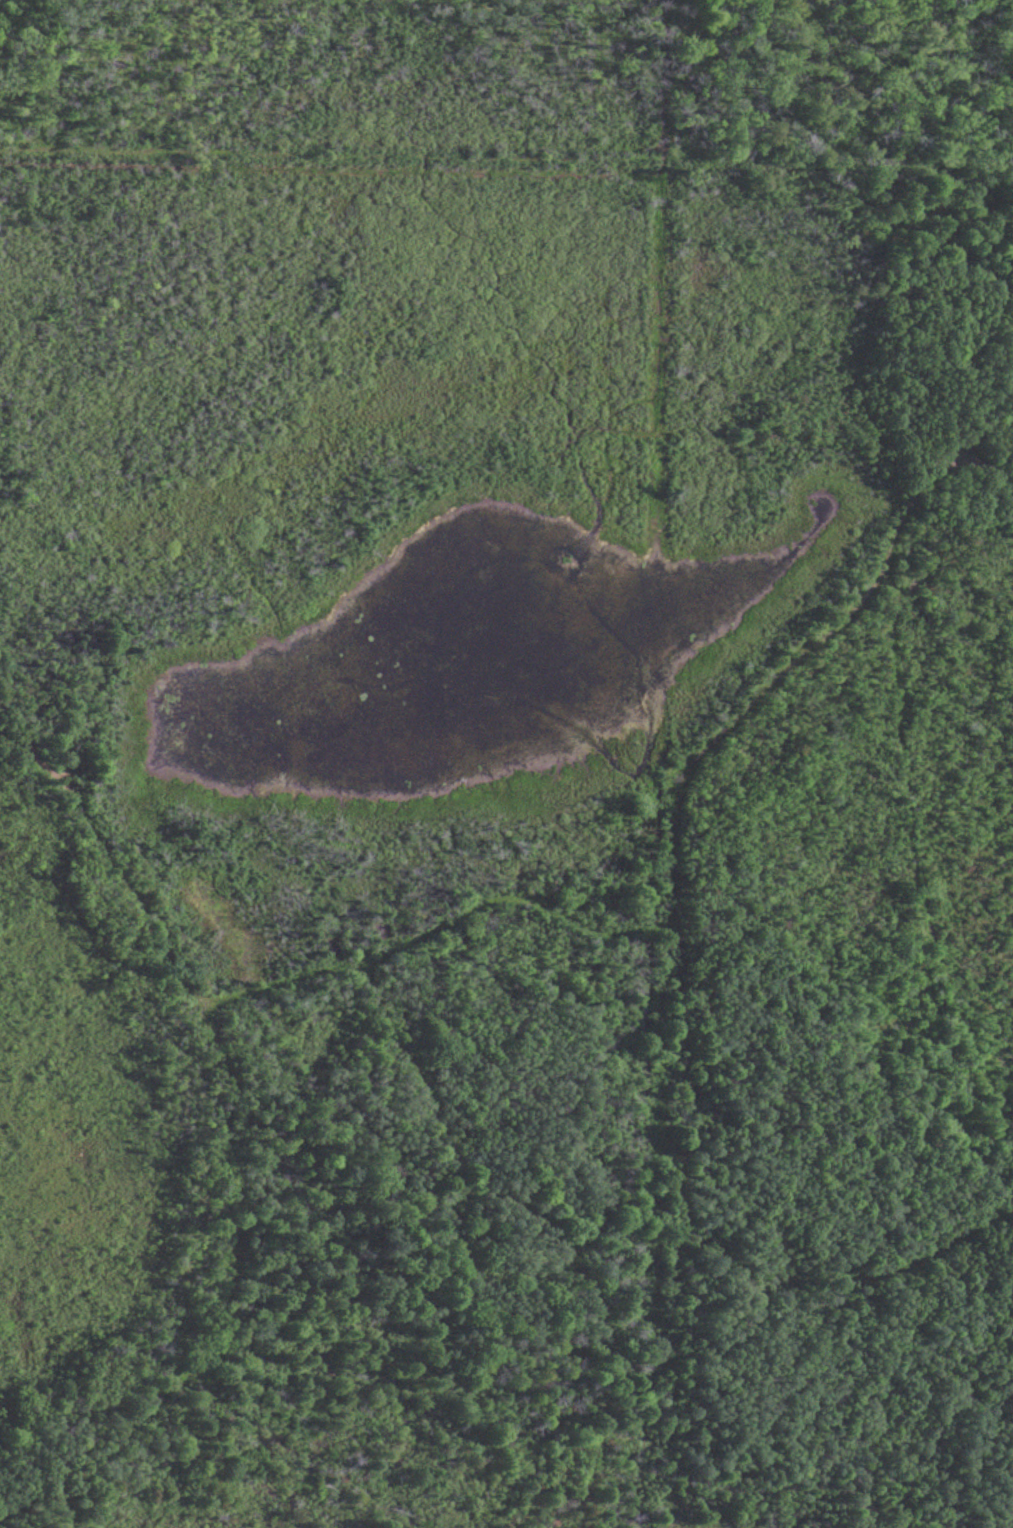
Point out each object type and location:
road: (506, 164)
road: (896, 634)

